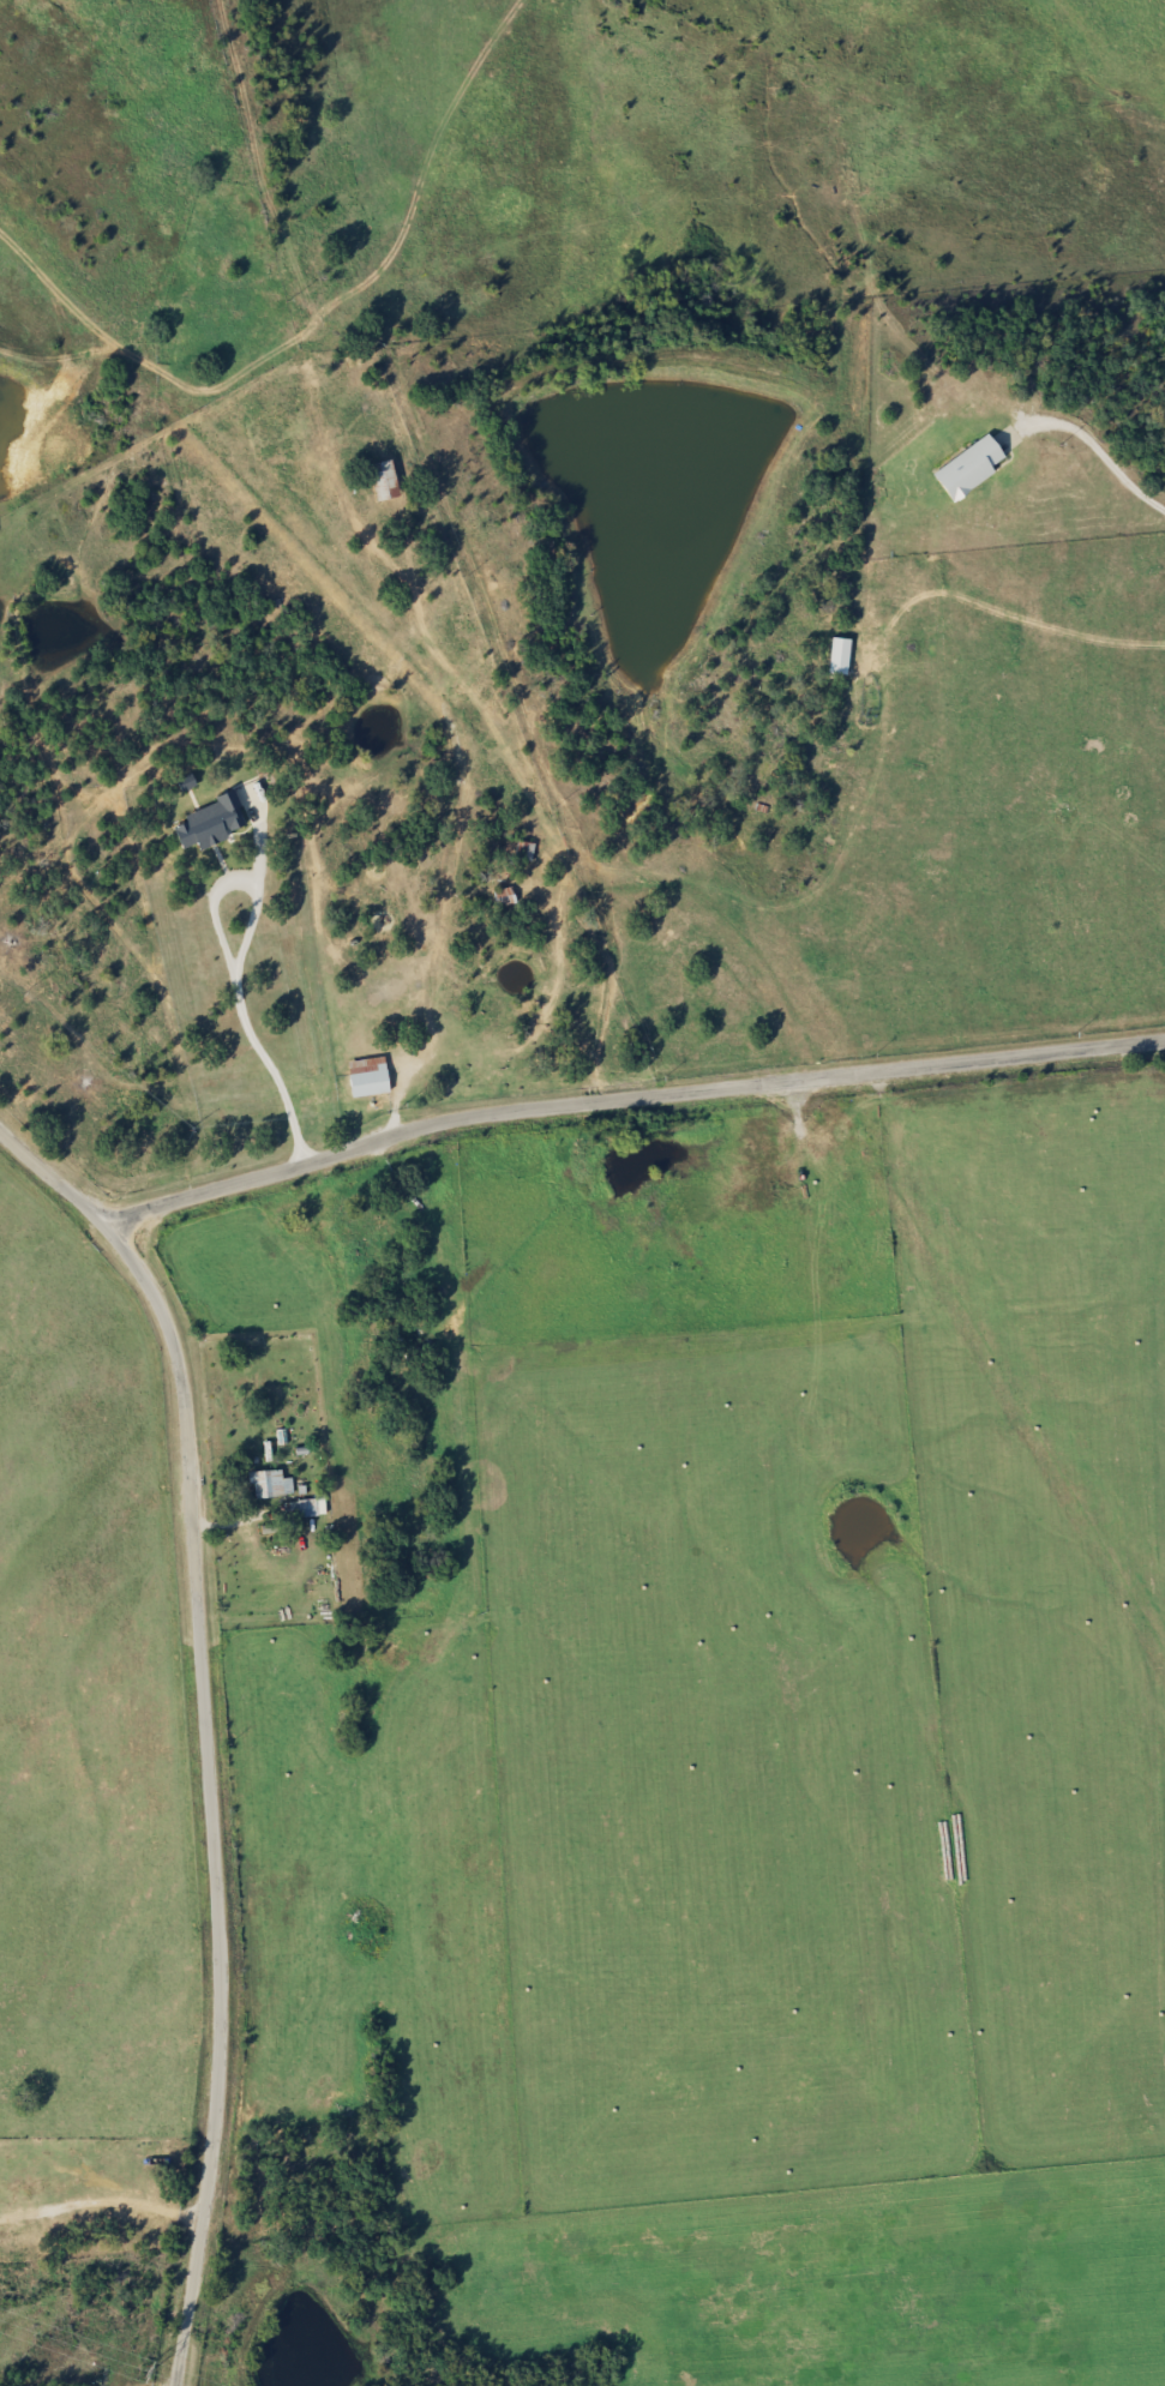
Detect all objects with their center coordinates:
building: (271, 425)
building: (963, 469)
building: (379, 481)
road: (455, 749)
building: (521, 851)
building: (502, 898)
building: (364, 1077)
road: (627, 1100)
building: (265, 1484)
building: (308, 1507)
road: (228, 1521)
road: (205, 1727)

